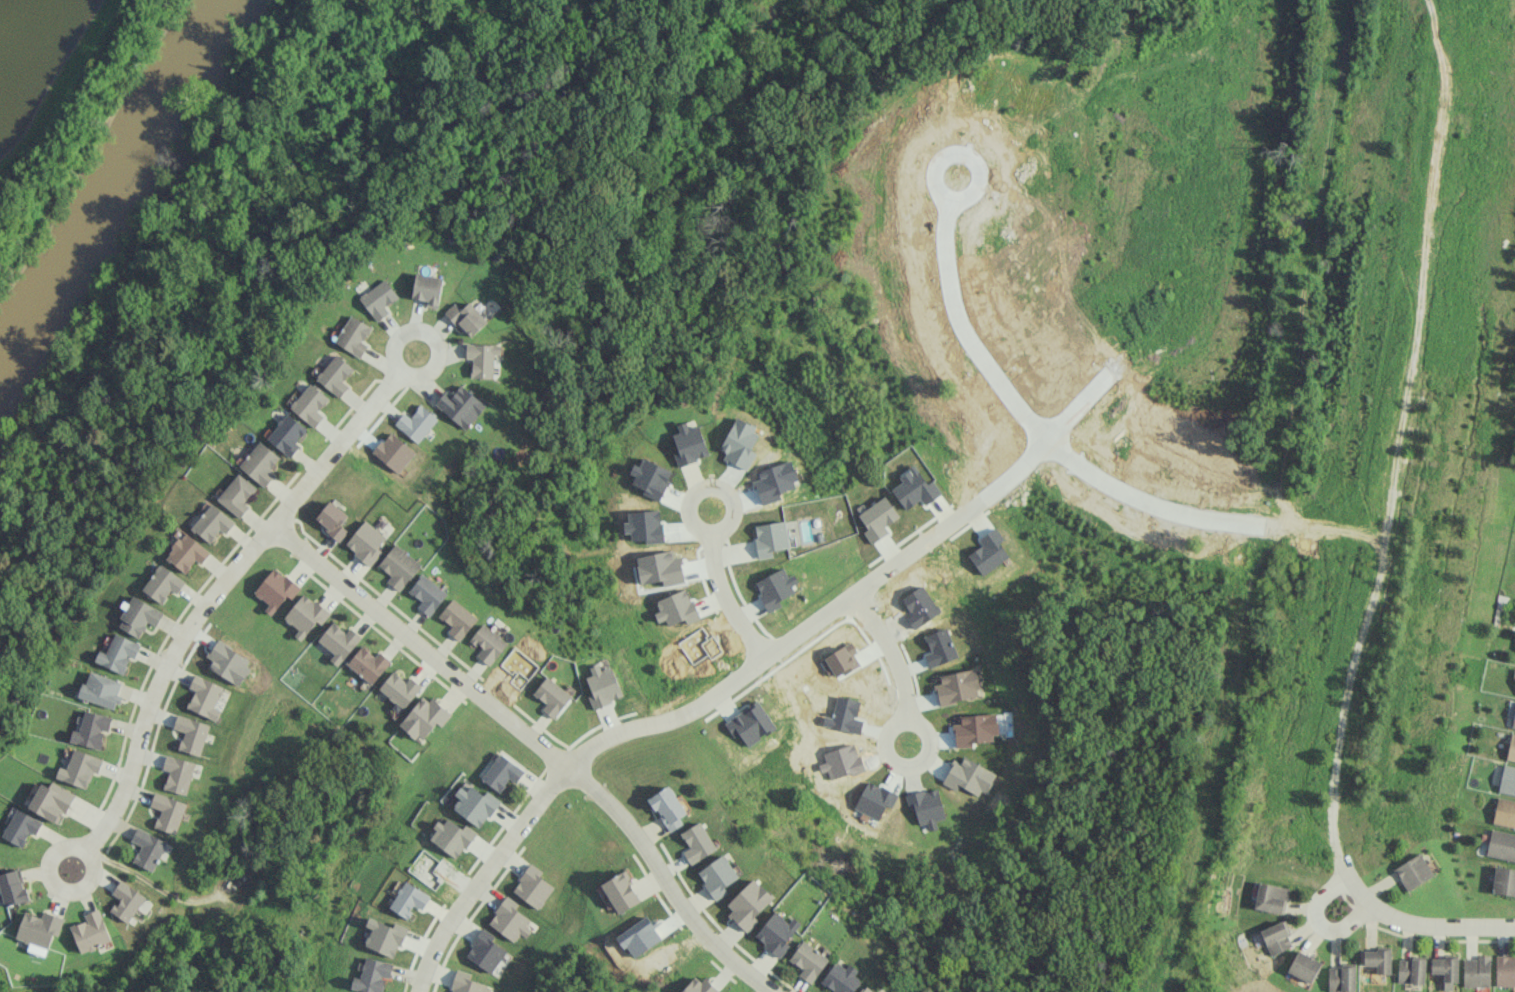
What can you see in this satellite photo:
road: (1171, 242)
road: (1430, 275)
building: (427, 288)
building: (378, 299)
building: (466, 318)
road: (961, 321)
road: (427, 333)
building: (353, 335)
building: (482, 358)
building: (335, 375)
building: (309, 404)
building: (460, 405)
building: (416, 422)
building: (286, 434)
building: (689, 443)
building: (260, 463)
building: (236, 494)
building: (332, 519)
building: (212, 523)
building: (366, 542)
road: (1375, 542)
building: (186, 552)
building: (399, 566)
building: (162, 583)
building: (275, 589)
road: (723, 592)
building: (427, 593)
road: (215, 596)
building: (305, 615)
building: (138, 616)
building: (457, 619)
building: (338, 641)
building: (488, 643)
building: (118, 653)
building: (368, 663)
road: (898, 668)
building: (603, 686)
building: (399, 688)
building: (100, 689)
building: (204, 696)
building: (552, 696)
road: (707, 705)
building: (424, 717)
building: (1513, 721)
building: (750, 723)
building: (90, 729)
building: (190, 734)
road: (537, 744)
building: (1511, 748)
building: (78, 768)
building: (502, 772)
building: (177, 774)
building: (1507, 779)
building: (51, 801)
building: (475, 803)
building: (668, 807)
building: (167, 812)
building: (1504, 812)
building: (20, 827)
building: (453, 837)
building: (696, 842)
building: (1501, 844)
building: (147, 848)
building: (1413, 871)
building: (717, 876)
building: (1503, 880)
building: (533, 886)
building: (12, 887)
road: (58, 888)
building: (621, 891)
building: (1270, 897)
building: (409, 899)
building: (126, 901)
building: (748, 903)
road: (1314, 909)
building: (509, 920)
road: (1441, 925)
building: (39, 928)
building: (90, 931)
building: (776, 932)
building: (385, 936)
building: (1275, 937)
building: (487, 953)
building: (1377, 959)
building: (808, 961)
building: (1303, 966)
building: (1410, 970)
building: (1445, 970)
building: (1505, 970)
building: (1476, 971)
building: (372, 975)
building: (841, 978)
building: (1340, 978)
building: (466, 983)
building: (700, 986)
building: (867, 989)

